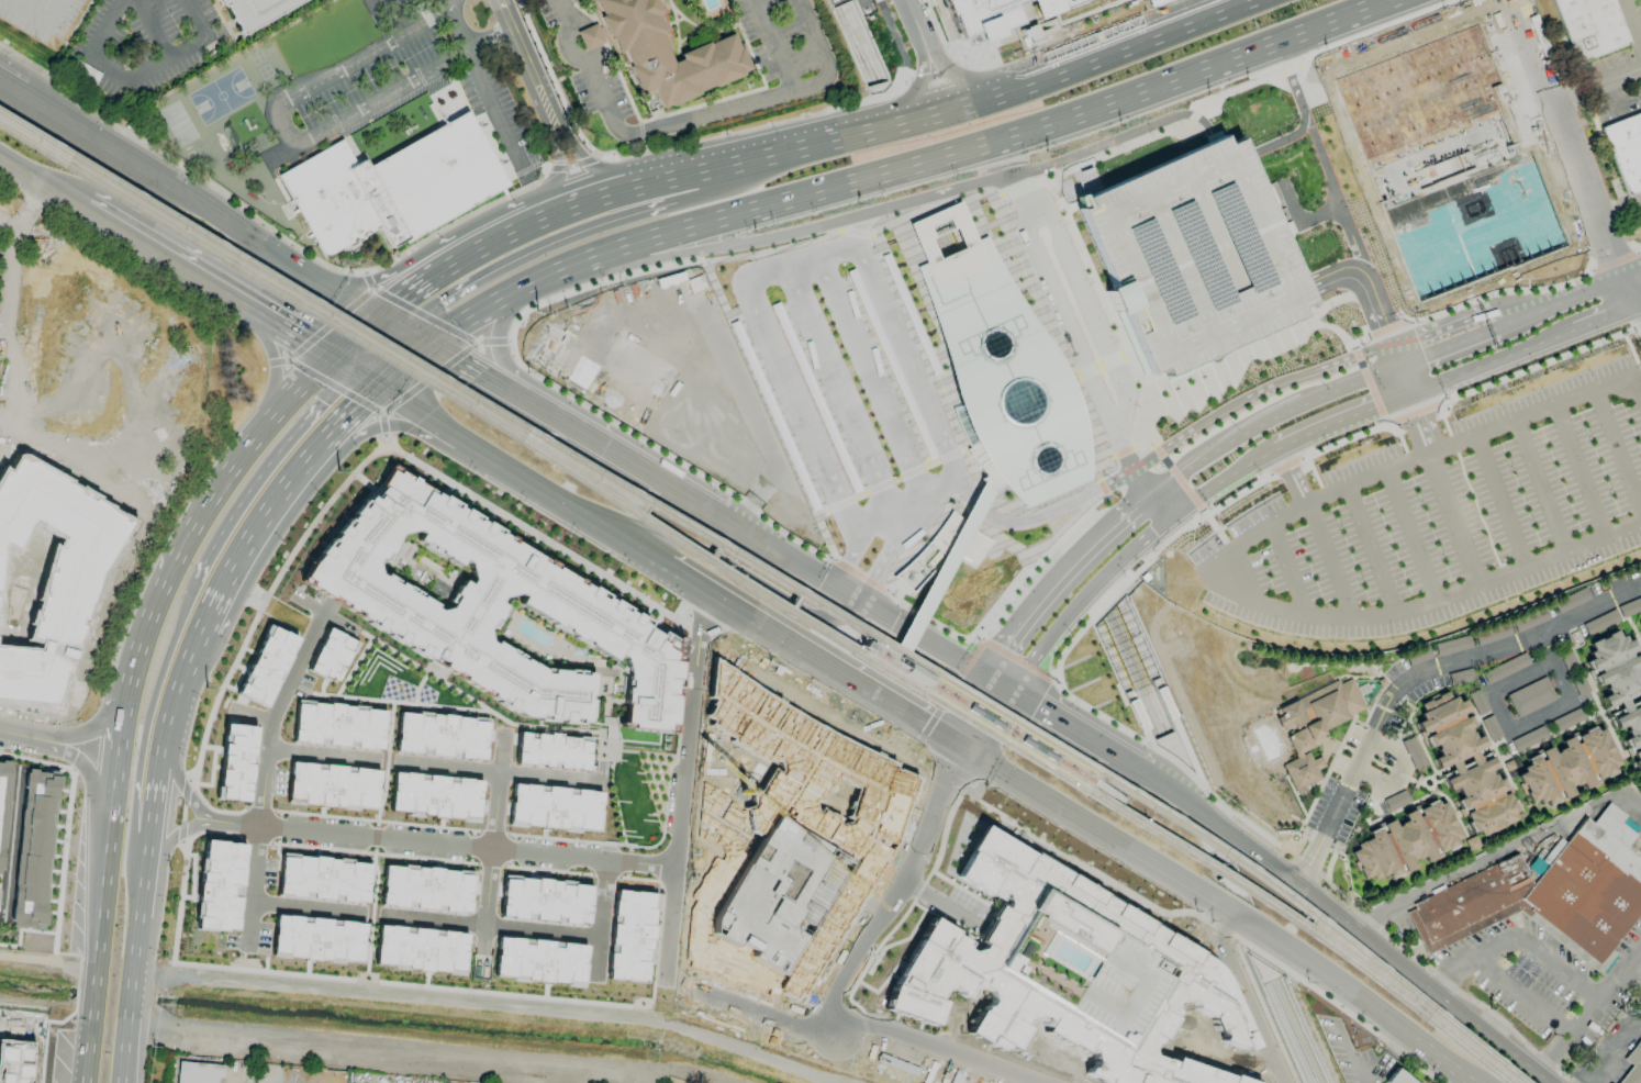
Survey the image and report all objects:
road: (376, 1)
road: (444, 3)
building: (255, 11)
road: (36, 14)
road: (1042, 14)
building: (985, 15)
road: (913, 21)
road: (1632, 22)
building: (1588, 26)
road: (150, 27)
road: (1028, 27)
road: (456, 29)
road: (1045, 30)
road: (1372, 30)
road: (940, 34)
road: (895, 37)
building: (861, 40)
railway: (863, 42)
railway: (856, 44)
road: (772, 46)
railway: (851, 46)
building: (669, 57)
road: (526, 63)
road: (1291, 69)
road: (138, 72)
road: (957, 72)
road: (938, 74)
road: (907, 77)
road: (1596, 83)
road: (918, 85)
road: (1239, 88)
road: (11, 89)
park: (220, 94)
road: (983, 99)
road: (1058, 104)
road: (1302, 110)
road: (495, 115)
road: (1193, 115)
road: (693, 119)
park: (178, 124)
road: (751, 126)
road: (293, 141)
road: (1110, 141)
road: (1567, 141)
building: (1626, 149)
road: (1114, 153)
road: (956, 155)
building: (1445, 160)
road: (585, 163)
road: (569, 166)
road: (177, 168)
road: (557, 170)
road: (669, 180)
road: (692, 185)
building: (392, 186)
road: (42, 187)
road: (1019, 188)
road: (172, 192)
road: (935, 194)
road: (1336, 194)
road: (1092, 198)
road: (656, 204)
road: (1618, 206)
road: (935, 208)
road: (1070, 208)
road: (8, 221)
road: (456, 221)
road: (535, 223)
road: (857, 228)
railway: (951, 228)
road: (857, 233)
railway: (950, 235)
railway: (929, 236)
railway: (937, 241)
road: (11, 247)
road: (715, 247)
road: (835, 250)
road: (1639, 252)
building: (1190, 255)
parking garage: (1190, 255)
road: (515, 260)
road: (800, 260)
road: (1614, 260)
road: (172, 266)
road: (665, 268)
road: (1632, 273)
road: (388, 277)
road: (823, 277)
road: (367, 280)
road: (1363, 280)
road: (748, 288)
road: (411, 289)
road: (1497, 289)
road: (1585, 293)
road: (1632, 294)
road: (1084, 295)
traffic signals: (402, 297)
road: (349, 300)
road: (880, 300)
road: (1107, 302)
road: (1639, 304)
road: (1106, 306)
traffic signals: (427, 311)
road: (1305, 312)
road: (472, 313)
road: (806, 313)
road: (1076, 315)
road: (1465, 315)
road: (422, 316)
road: (1606, 317)
road: (1521, 319)
road: (387, 323)
road: (328, 324)
road: (1047, 326)
road: (1638, 327)
road: (1385, 328)
road: (347, 336)
road: (413, 337)
road: (290, 338)
road: (919, 340)
road: (1358, 340)
traffic signals: (298, 343)
road: (492, 343)
road: (853, 347)
road: (1447, 347)
road: (1247, 350)
road: (775, 354)
road: (1393, 355)
road: (384, 356)
road: (277, 360)
road: (398, 364)
road: (1084, 364)
traffic signals: (459, 365)
road: (499, 365)
road: (1487, 365)
building: (998, 366)
road: (1097, 366)
road: (1538, 366)
traffic signals: (1398, 367)
road: (345, 369)
road: (466, 369)
road: (273, 371)
road: (427, 378)
road: (1069, 379)
road: (1369, 382)
road: (1399, 382)
road: (838, 383)
road: (333, 386)
road: (292, 390)
traffic signals: (1402, 399)
road: (1237, 400)
traffic signals: (351, 401)
road: (1259, 405)
road: (1409, 405)
road: (406, 406)
road: (1429, 407)
road: (768, 410)
road: (533, 411)
road: (931, 415)
road: (1402, 417)
road: (333, 418)
road: (1338, 420)
road: (381, 424)
road: (957, 425)
road: (1258, 425)
road: (370, 428)
road: (1406, 429)
road: (860, 432)
road: (1425, 433)
road: (1343, 442)
road: (900, 448)
road: (1127, 449)
road: (1618, 451)
road: (668, 453)
road: (822, 457)
road: (1093, 465)
road: (1284, 466)
road: (1581, 471)
road: (1291, 476)
road: (1177, 478)
road: (889, 481)
road: (533, 484)
road: (941, 485)
road: (1101, 487)
road: (1540, 487)
road: (880, 500)
road: (970, 501)
road: (1499, 502)
road: (947, 506)
road: (1017, 509)
road: (695, 510)
parking lot: (1441, 517)
road: (1456, 517)
road: (253, 518)
road: (1022, 521)
road: (1068, 522)
road: (1070, 526)
road: (1411, 535)
road: (1231, 548)
road: (886, 549)
building: (940, 549)
road: (1373, 549)
road: (638, 550)
road: (1124, 555)
road: (1329, 560)
road: (1147, 561)
road: (176, 563)
road: (845, 565)
road: (740, 570)
road: (1286, 570)
building: (53, 572)
road: (859, 574)
railway: (774, 577)
building: (23, 584)
road: (931, 588)
road: (1049, 590)
traffic signals: (831, 592)
railway: (759, 594)
road: (1006, 598)
road: (842, 599)
building: (1571, 600)
building: (485, 605)
traffic signals: (855, 605)
building: (1629, 605)
road: (205, 610)
road: (930, 619)
building: (1529, 619)
building: (1599, 622)
building: (1495, 633)
building: (1452, 645)
road: (919, 646)
building: (331, 655)
road: (811, 657)
road: (1018, 661)
road: (187, 665)
road: (901, 665)
building: (266, 666)
road: (894, 666)
road: (898, 666)
building: (1509, 666)
road: (896, 668)
road: (1553, 668)
railway: (1140, 669)
road: (290, 673)
railway: (1157, 673)
railway: (1130, 676)
road: (1416, 676)
railway: (933, 677)
road: (1521, 678)
road: (928, 685)
railway: (1130, 685)
building: (1619, 685)
traffic signals: (985, 688)
road: (948, 693)
road: (997, 694)
building: (1530, 696)
traffic signals: (1009, 702)
building: (1478, 703)
road: (1500, 712)
building: (981, 715)
road: (1540, 718)
road: (974, 719)
building: (1566, 719)
building: (338, 725)
building: (1313, 725)
road: (986, 726)
building: (1491, 727)
road: (831, 729)
road: (23, 734)
building: (442, 735)
road: (87, 737)
building: (1529, 738)
road: (168, 740)
building: (1035, 747)
building: (551, 750)
traffic signals: (964, 751)
road: (1090, 751)
building: (1413, 752)
road: (381, 756)
road: (116, 762)
building: (235, 762)
building: (1464, 762)
road: (85, 763)
road: (1180, 764)
building: (1566, 767)
road: (952, 772)
road: (545, 777)
road: (1398, 777)
building: (332, 785)
building: (435, 795)
road: (492, 797)
flagpole: (1314, 799)
building: (1395, 800)
road: (1118, 803)
building: (2, 806)
building: (552, 806)
road: (204, 808)
road: (5, 816)
road: (315, 827)
building: (1405, 841)
road: (1236, 842)
building: (35, 847)
road: (674, 851)
road: (1497, 853)
road: (1309, 867)
building: (323, 879)
building: (219, 885)
building: (425, 889)
building: (1587, 894)
building: (545, 900)
building: (1471, 904)
road: (484, 908)
road: (1223, 908)
road: (880, 912)
road: (670, 917)
road: (418, 919)
road: (247, 925)
road: (142, 933)
building: (629, 936)
road: (1517, 936)
building: (317, 939)
road: (98, 944)
building: (420, 949)
building: (1146, 954)
road: (595, 958)
building: (1047, 960)
building: (539, 961)
road: (1632, 976)
parking lot: (1548, 980)
road: (1443, 981)
road: (1424, 983)
road: (1255, 993)
road: (1243, 996)
road: (1525, 997)
road: (1335, 1004)
road: (1589, 1013)
railway: (1299, 1030)
road: (834, 1031)
railway: (1288, 1032)
road: (1611, 1048)
gas station: (1615, 1050)
building: (1634, 1057)
road: (1387, 1060)
building: (200, 1072)
building: (1631, 1076)
building: (1399, 1078)
road: (232, 1079)
road: (1587, 1081)

